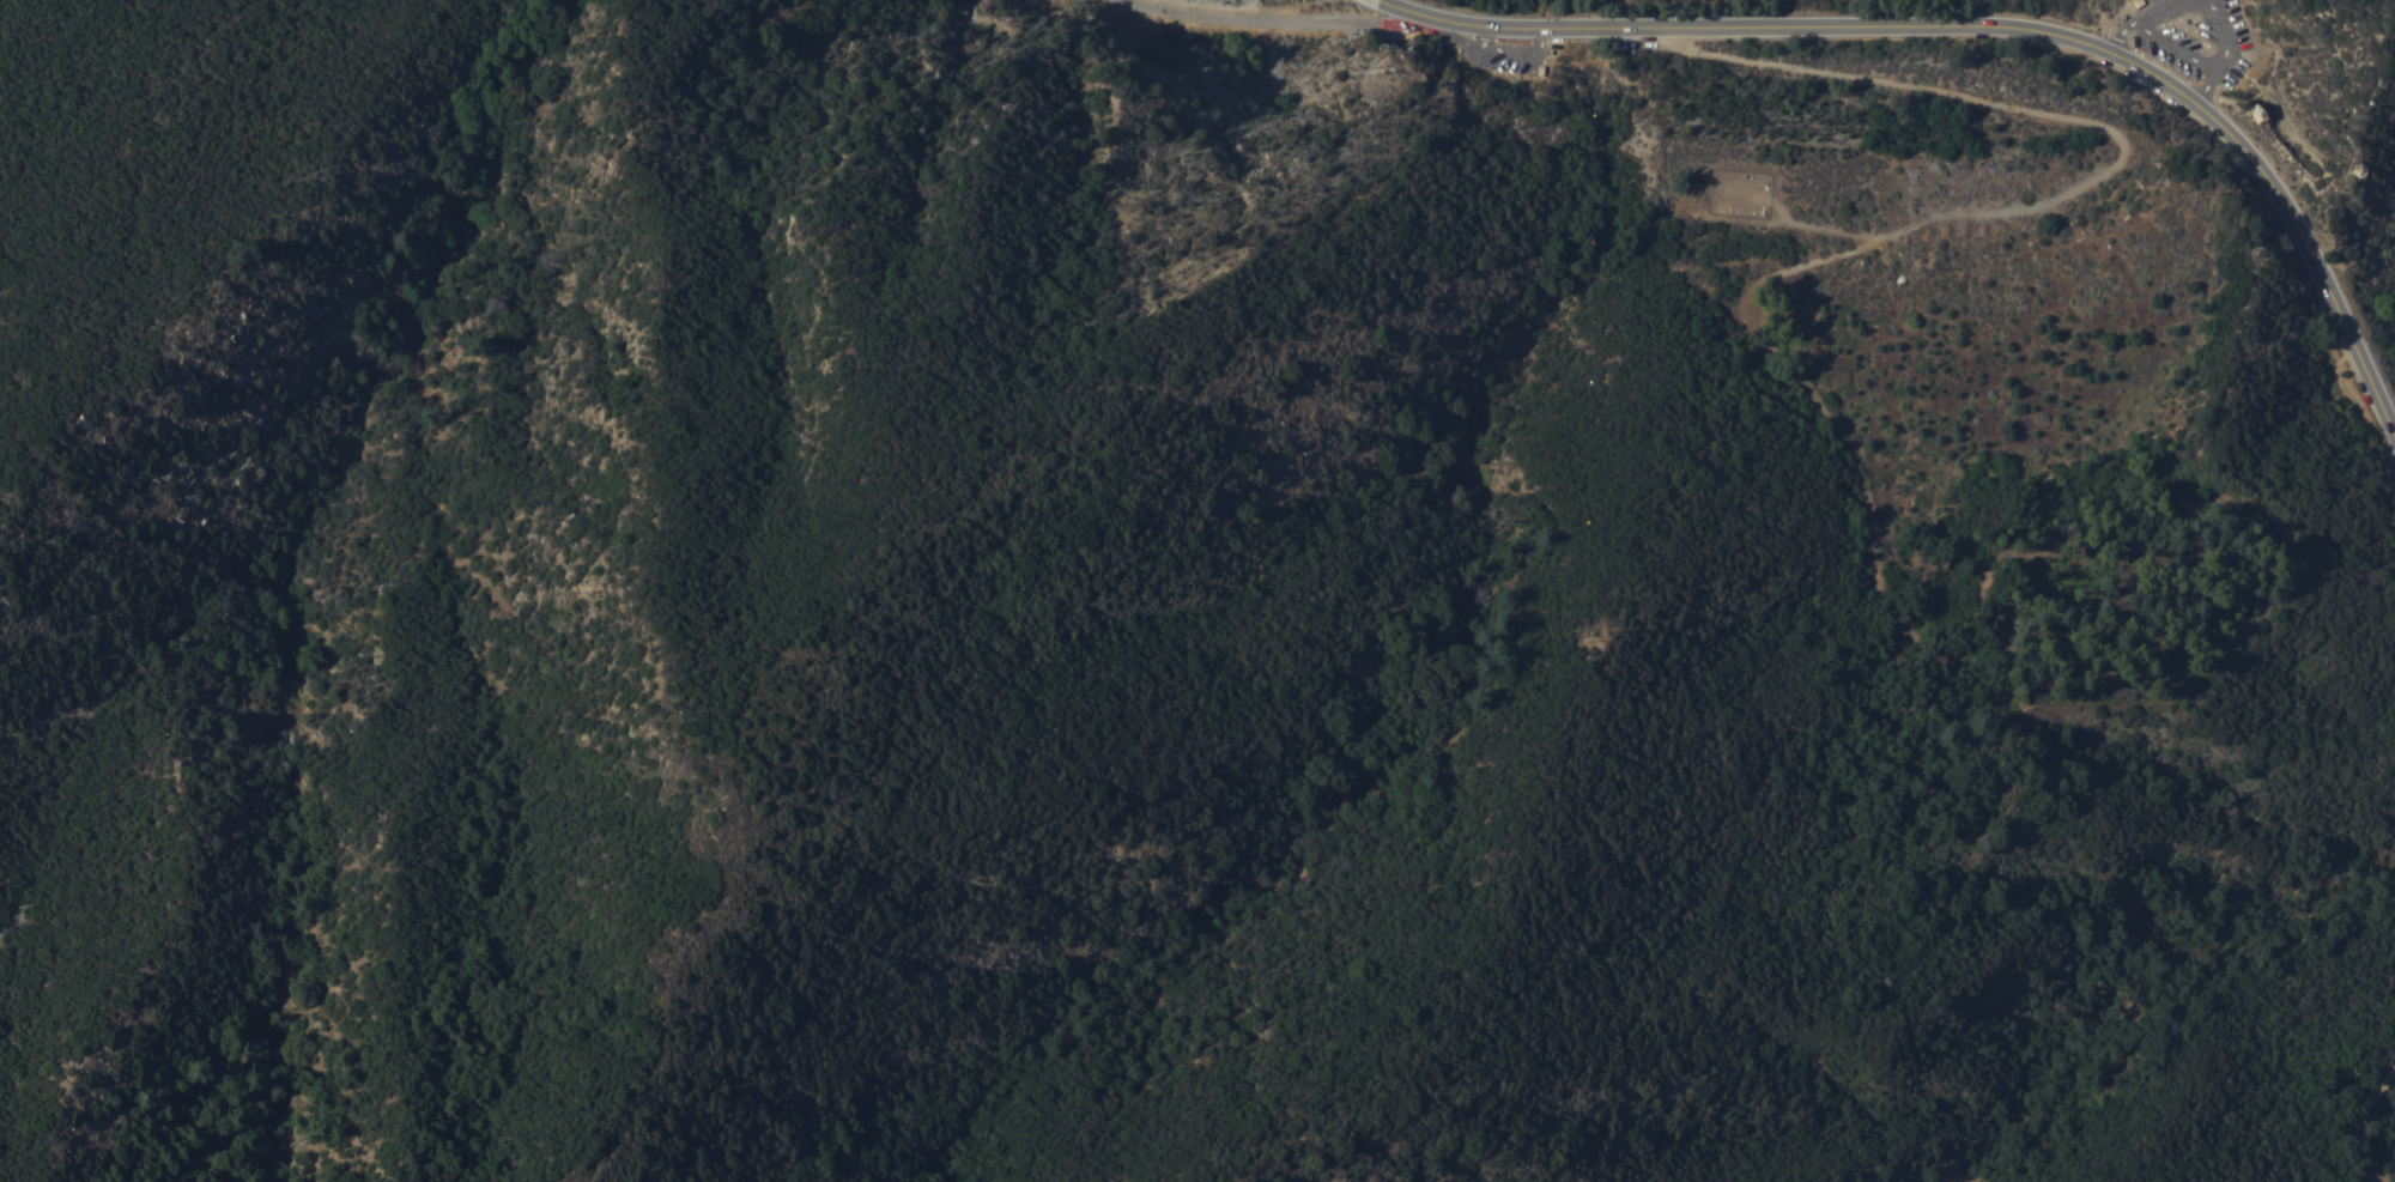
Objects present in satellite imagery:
road: (1377, 1)
road: (2145, 17)
road: (1987, 25)
road: (1269, 31)
road: (1460, 41)
parking lot: (2191, 41)
road: (2172, 48)
parking lot: (1499, 50)
road: (2220, 51)
road: (1514, 55)
road: (1700, 172)
road: (1988, 182)
road: (1842, 230)
road: (1843, 449)
road: (2361, 1119)

